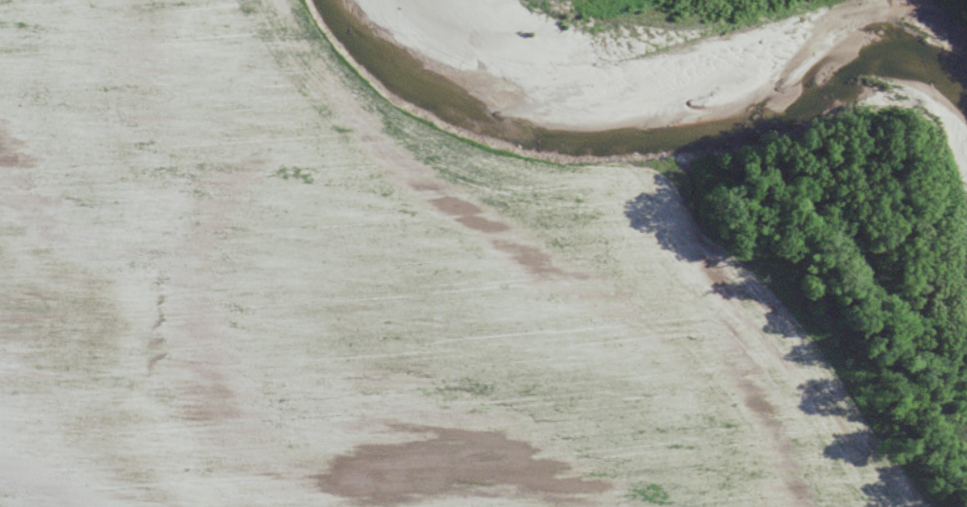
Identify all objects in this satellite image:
river: (961, 11)
river: (565, 26)

